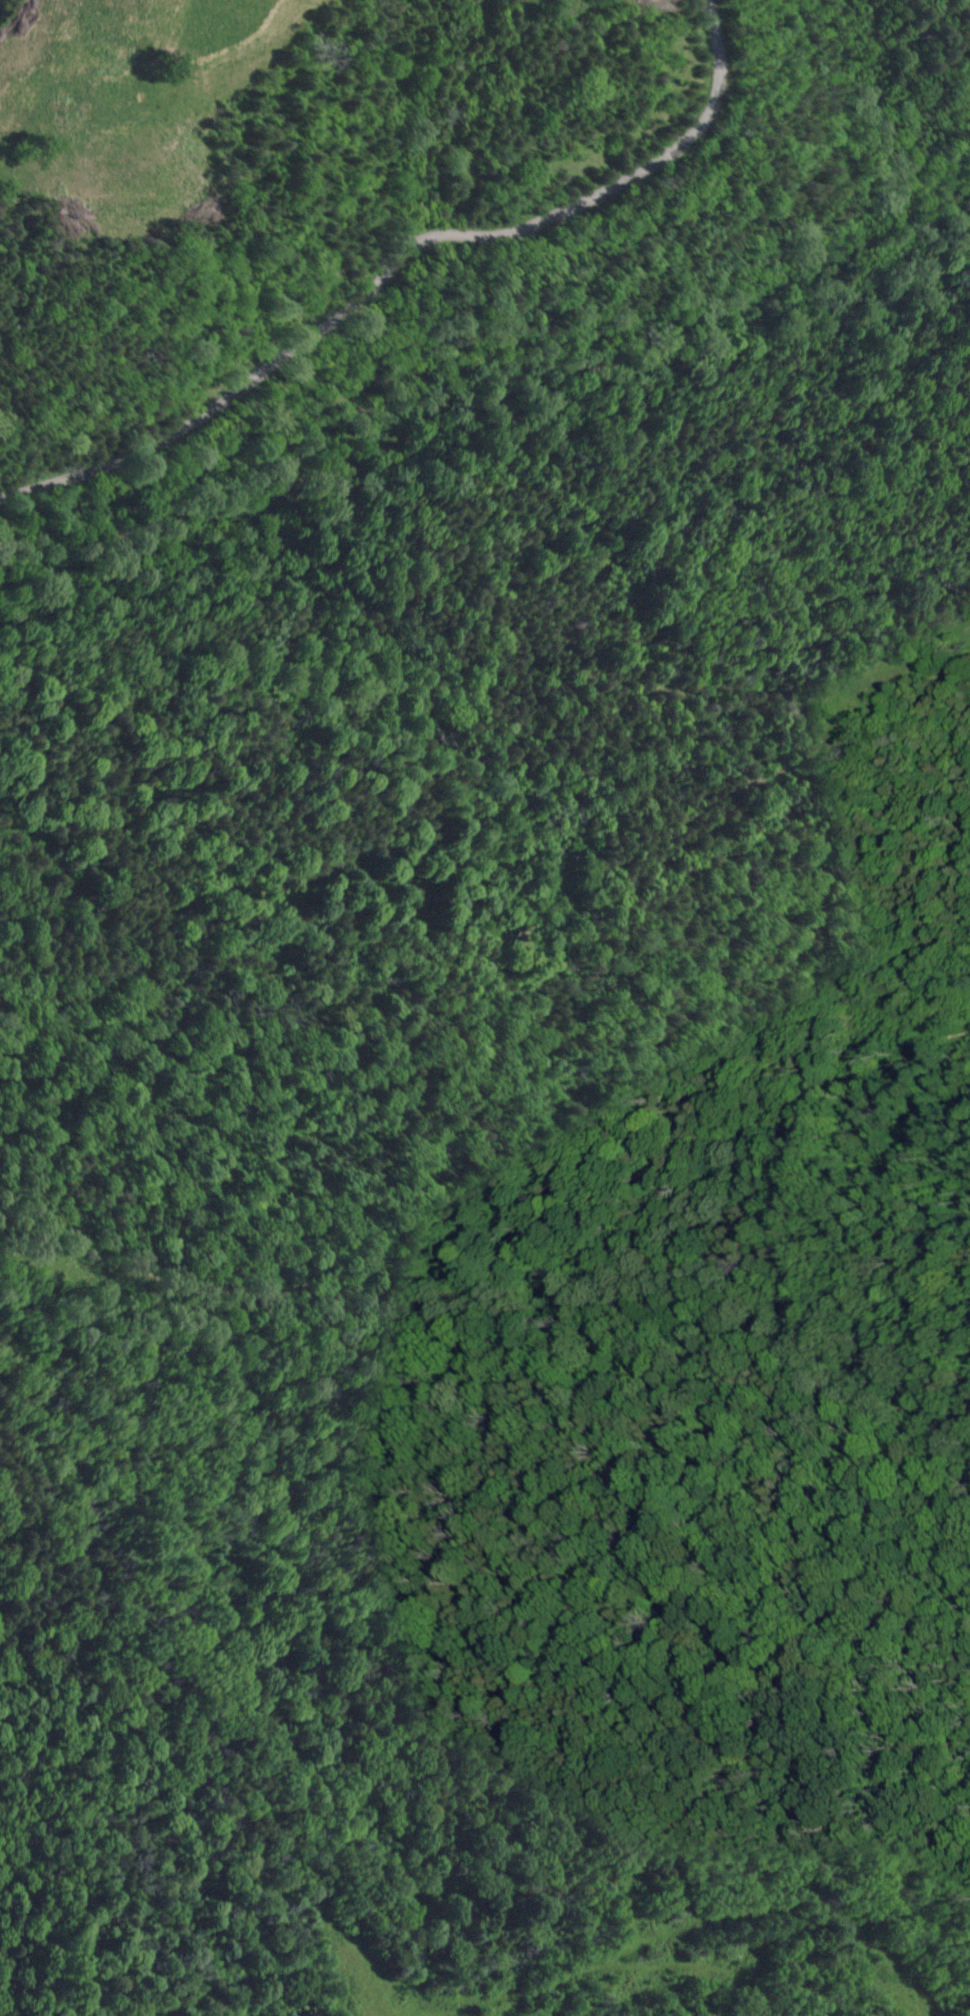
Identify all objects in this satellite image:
road: (413, 275)

